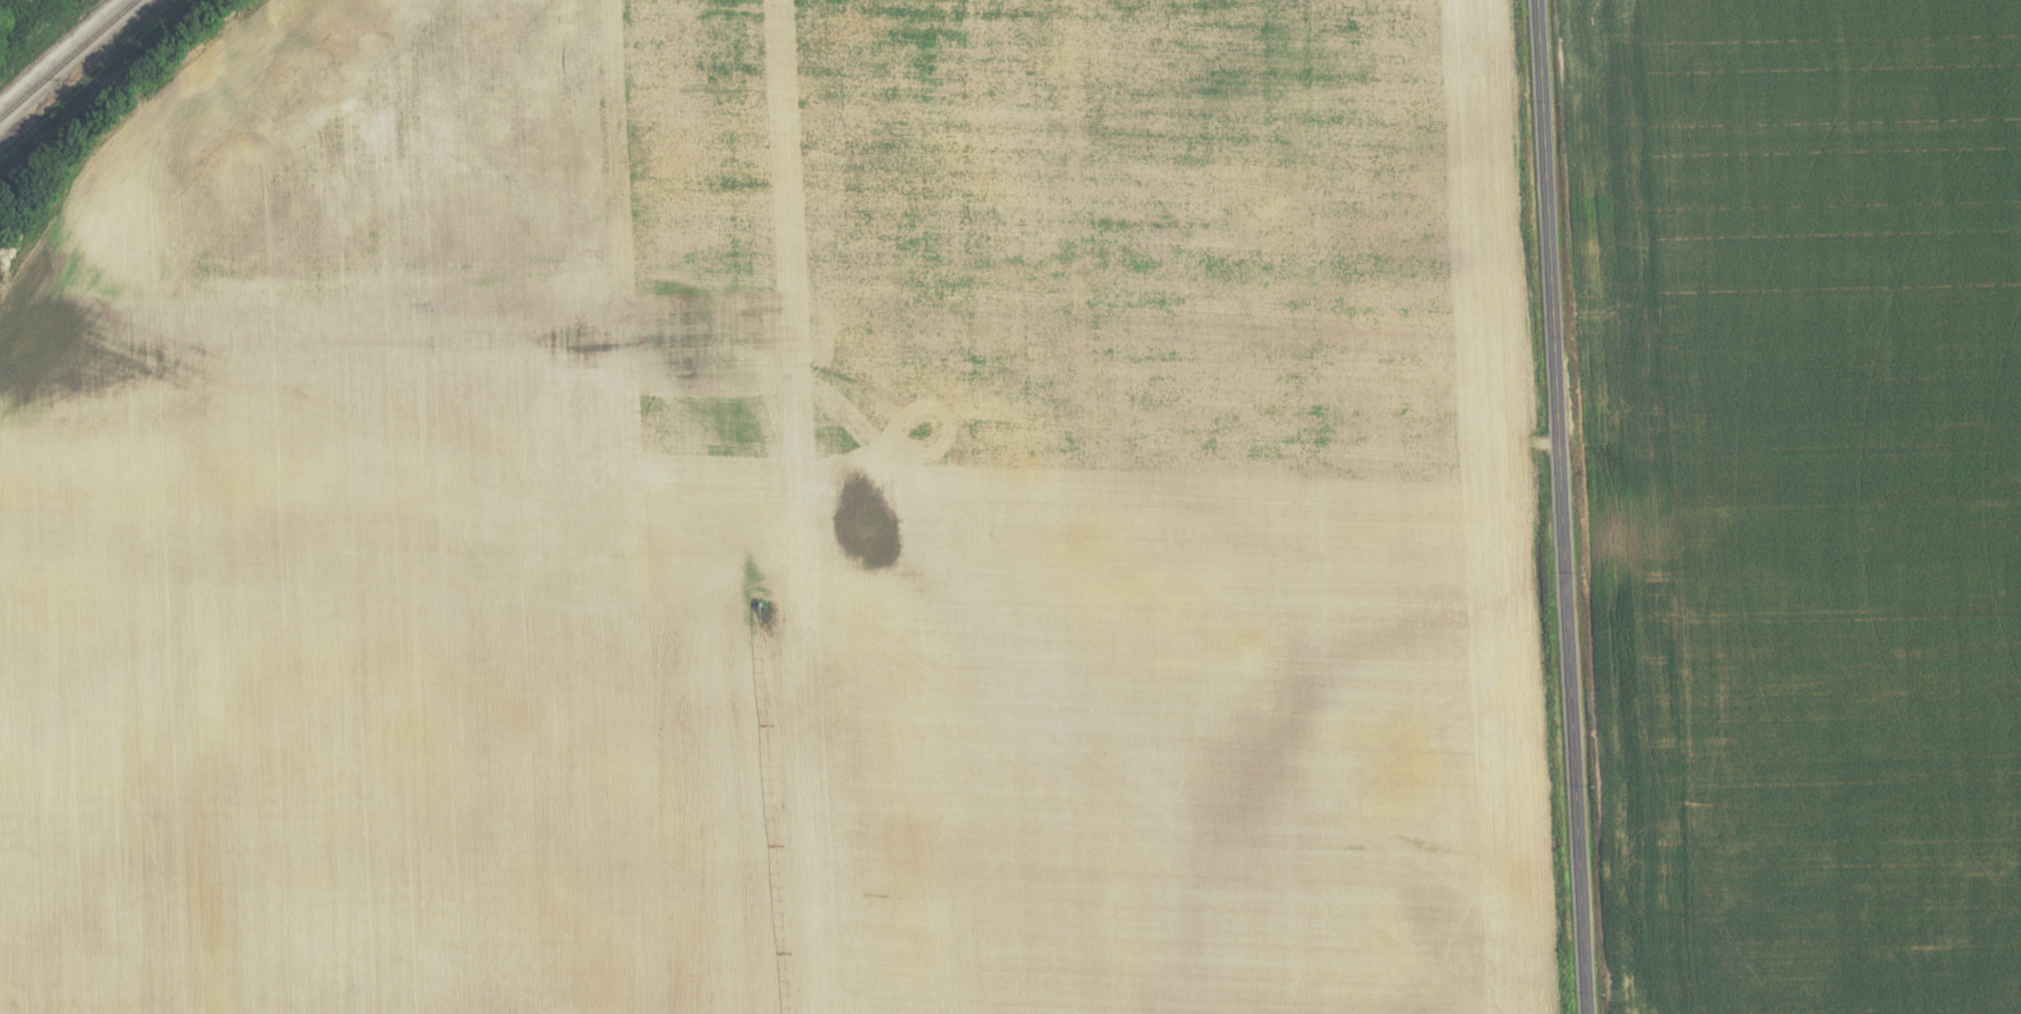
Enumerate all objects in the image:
railway: (69, 60)
road: (100, 87)
road: (1570, 506)

